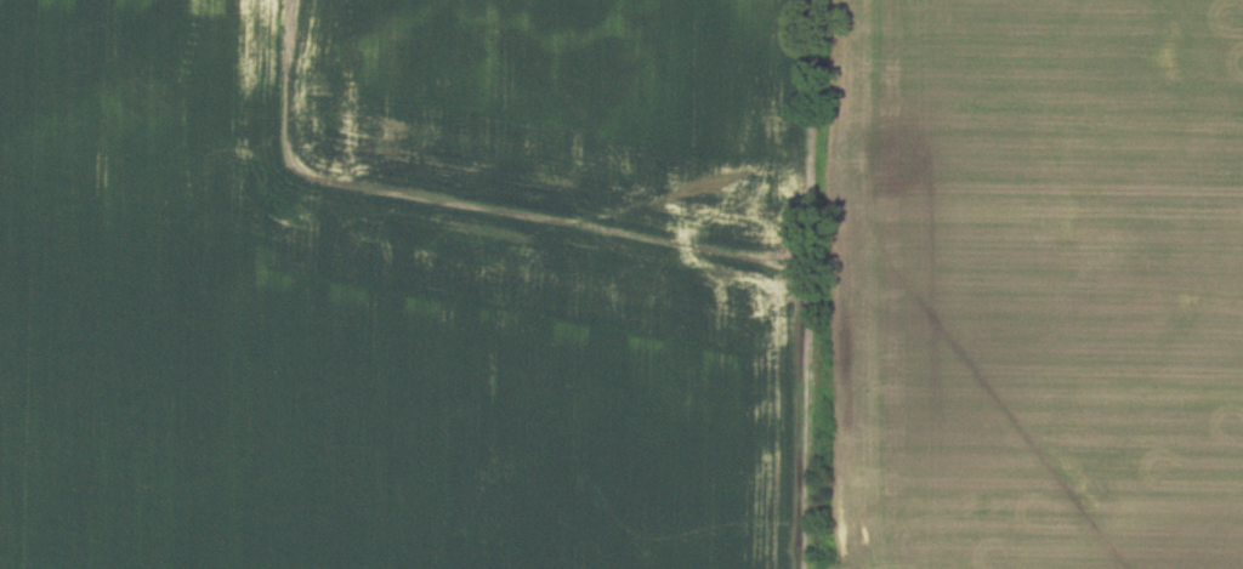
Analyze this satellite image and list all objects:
road: (817, 284)

